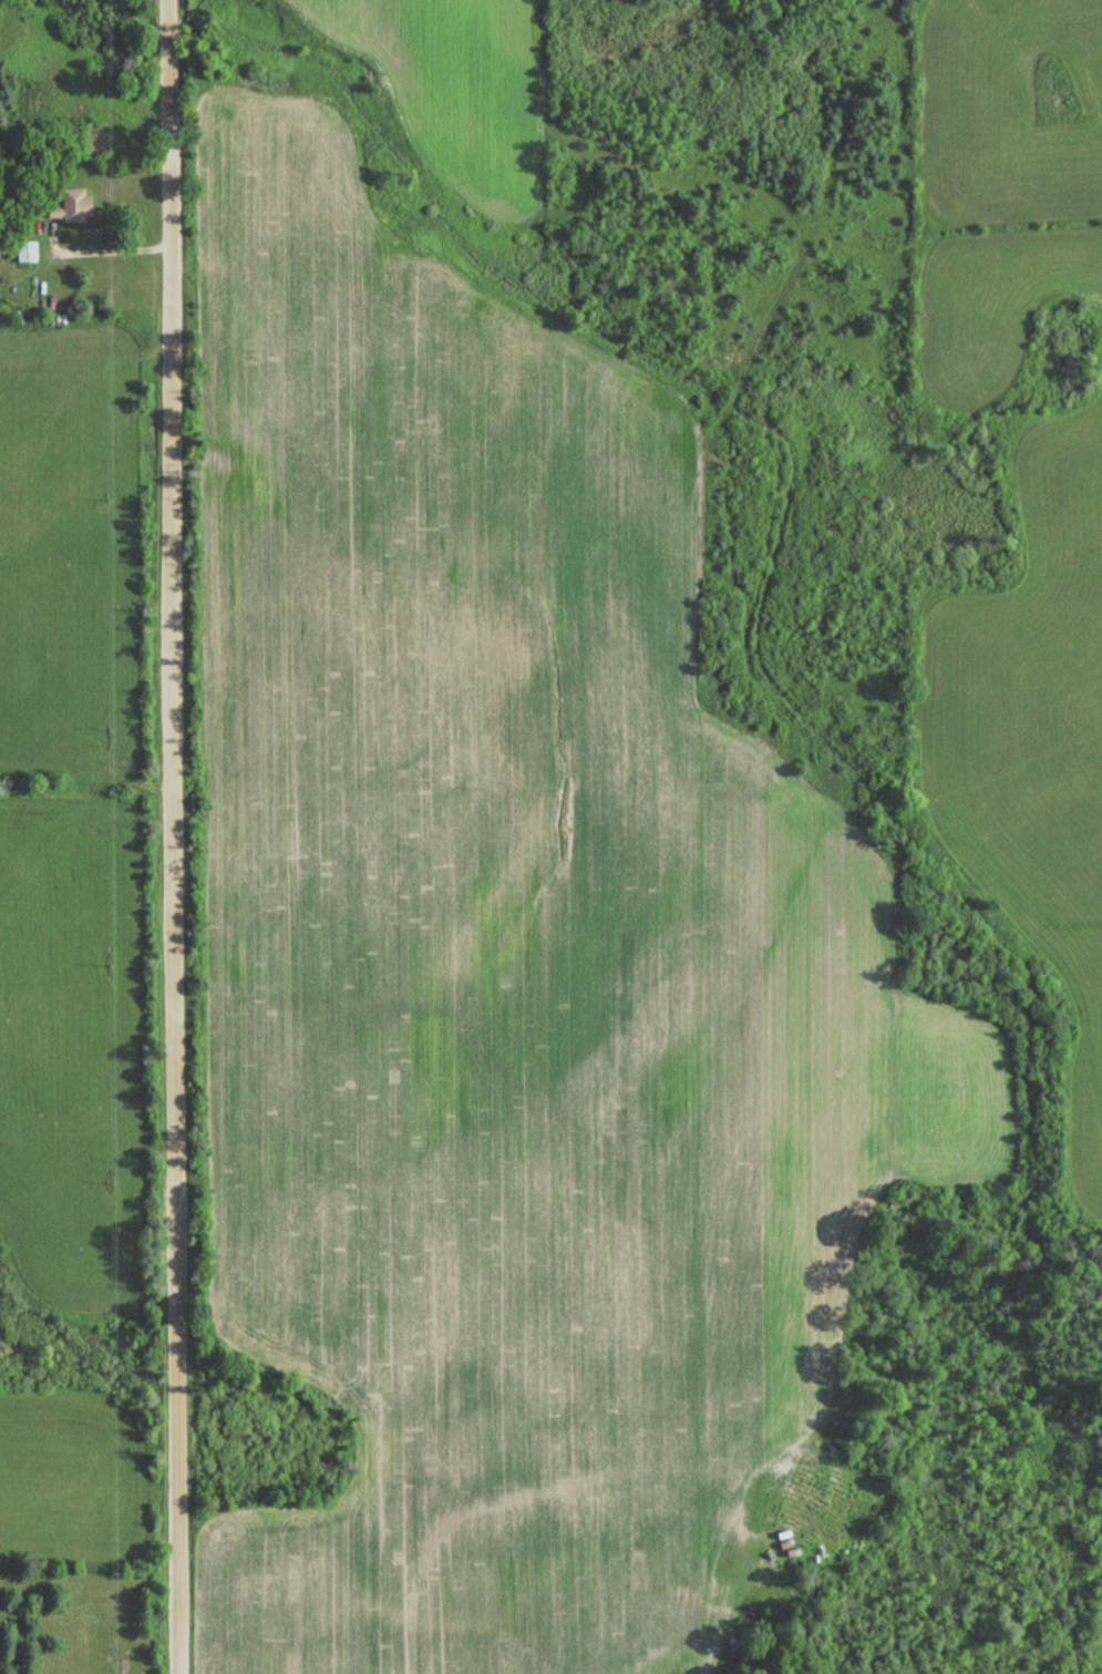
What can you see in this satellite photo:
building: (69, 206)
building: (25, 251)
road: (152, 836)

